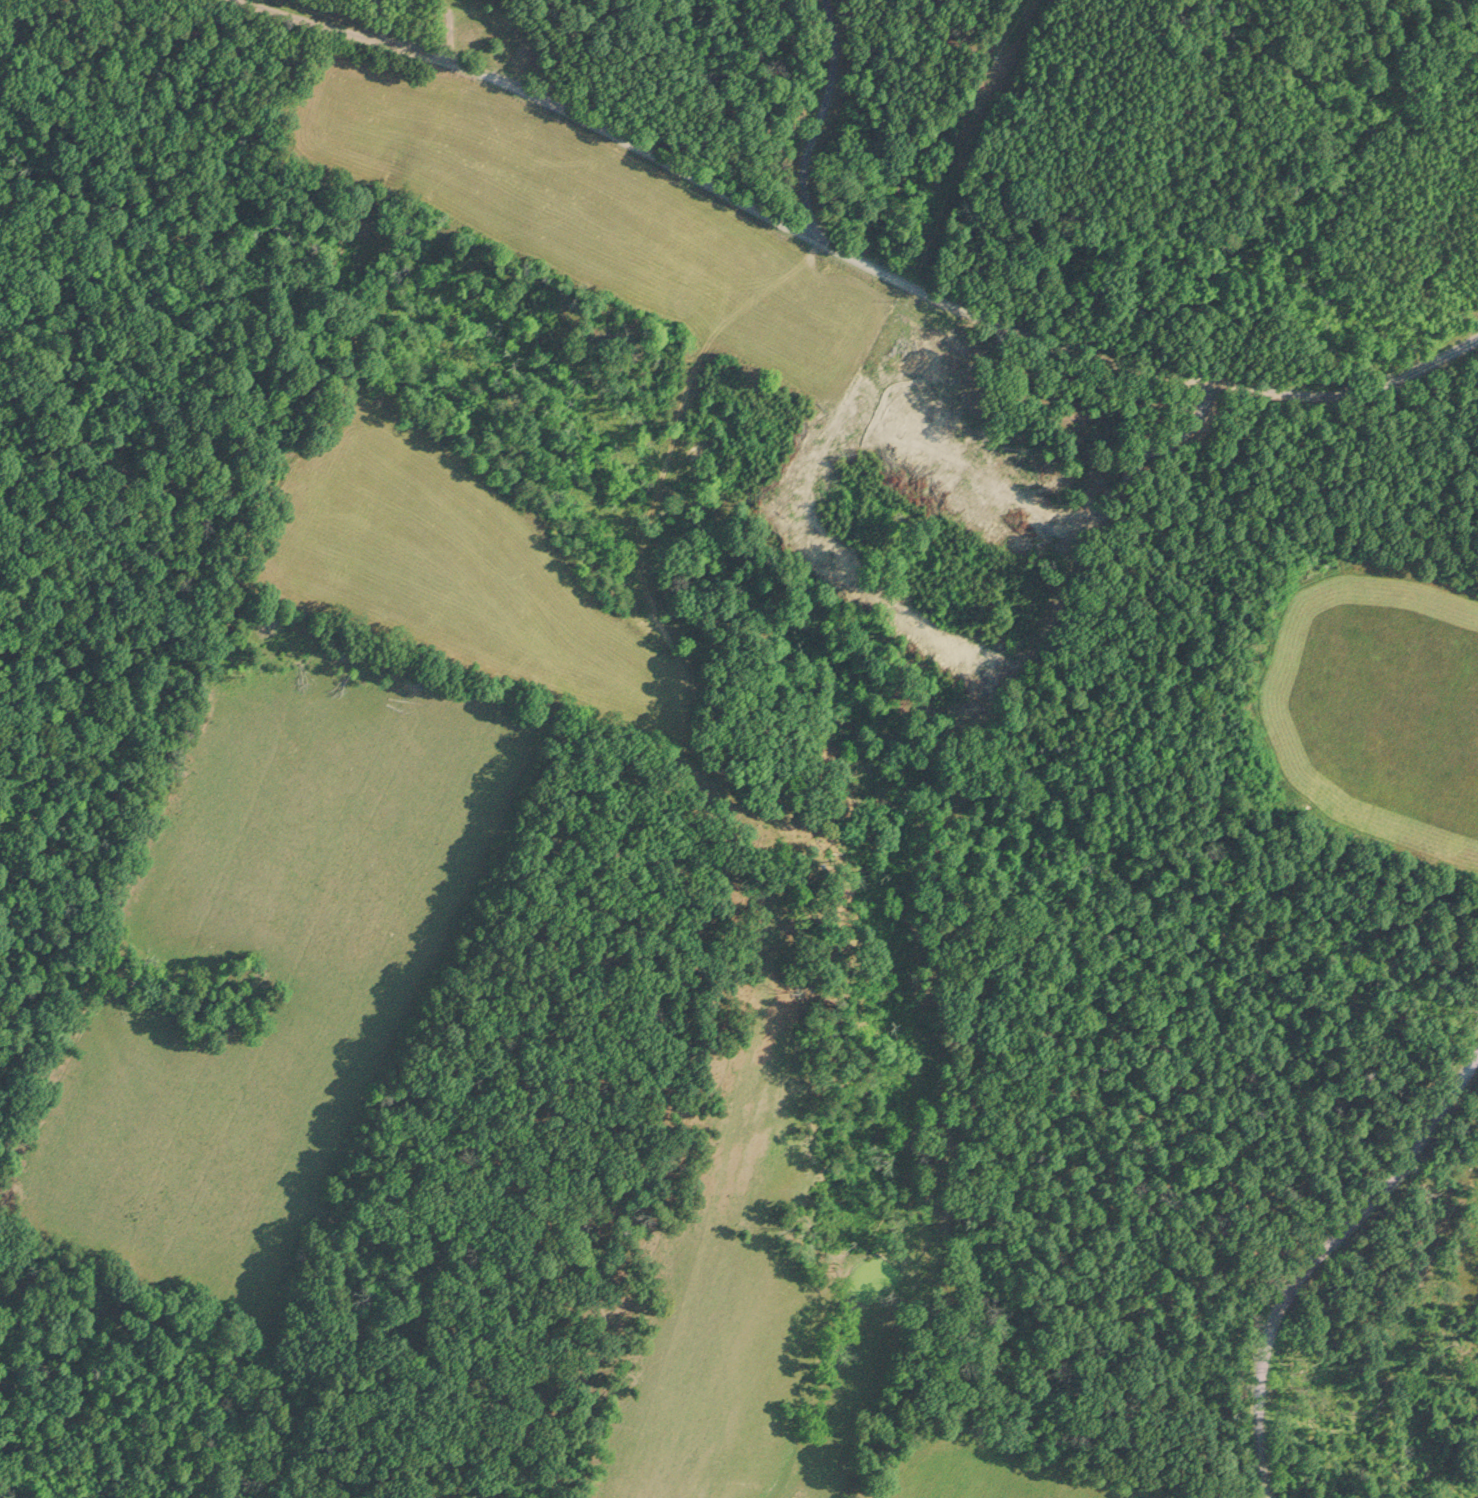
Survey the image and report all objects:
road: (564, 107)
road: (820, 115)
road: (943, 125)
road: (1164, 371)
road: (1316, 1257)

